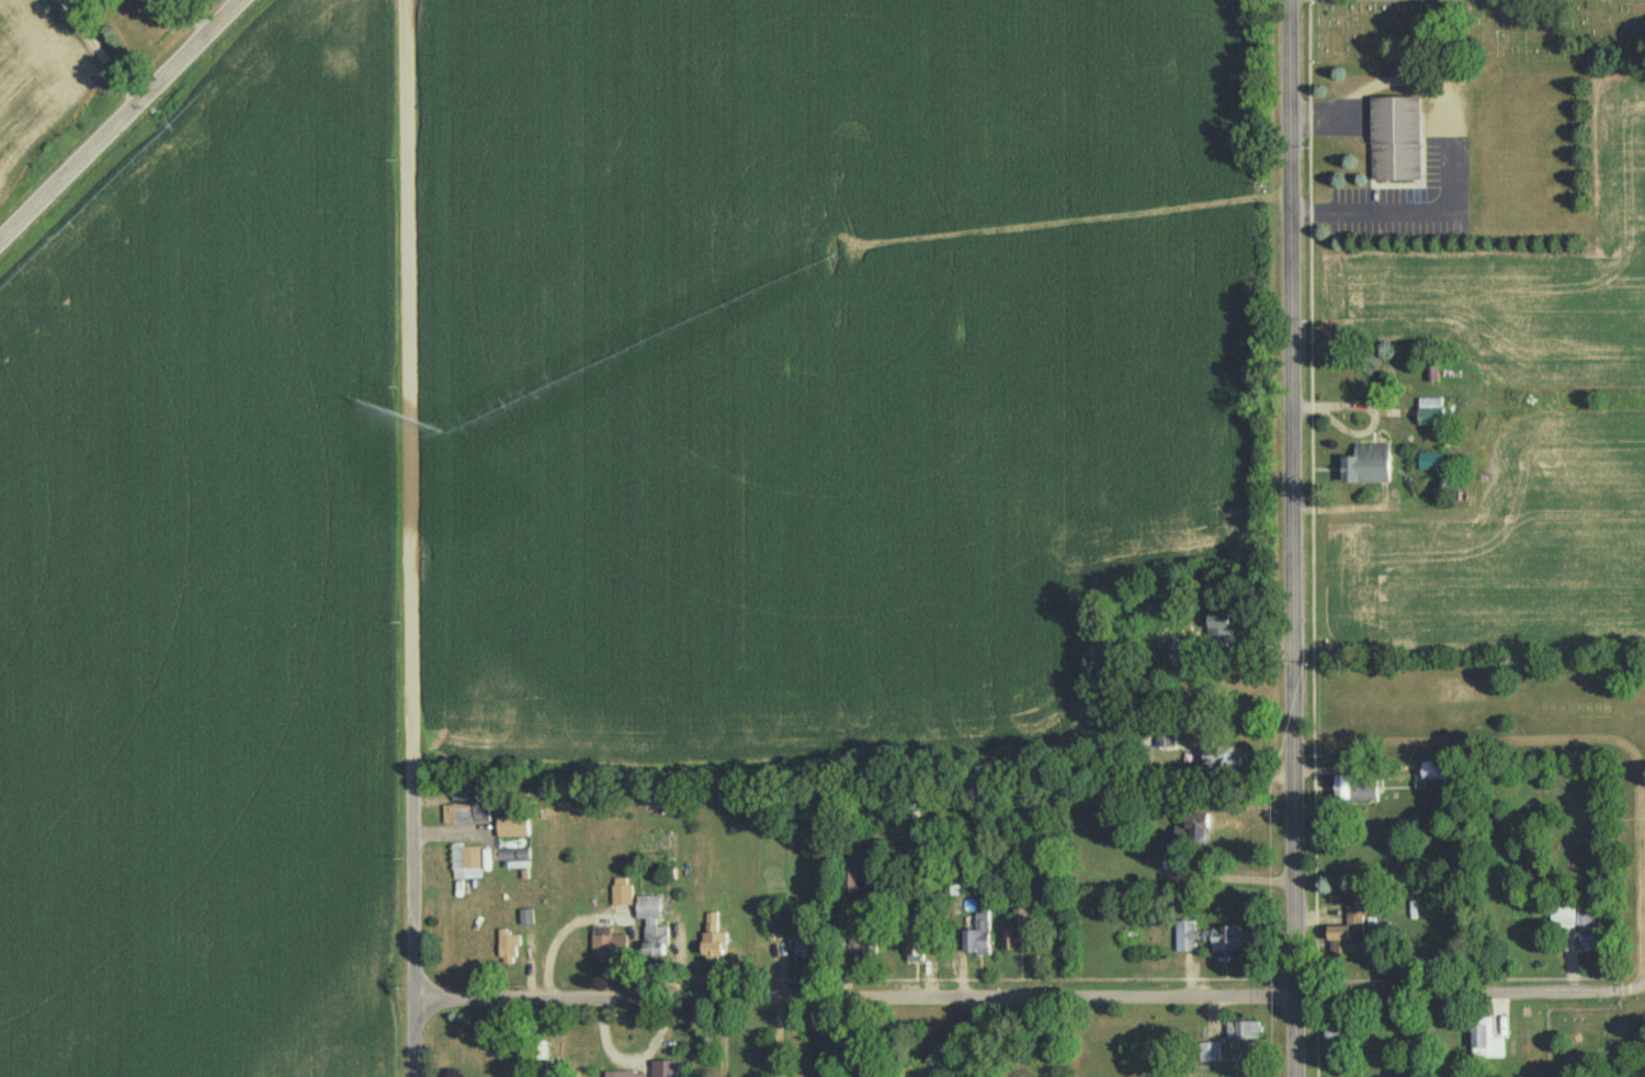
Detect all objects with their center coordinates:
road: (1618, 0)
park: (1477, 30)
road: (116, 117)
building: (1395, 143)
building: (1430, 413)
building: (1430, 463)
building: (1366, 466)
road: (406, 537)
road: (1287, 537)
building: (1218, 631)
building: (1179, 657)
building: (1165, 737)
building: (1219, 759)
building: (1434, 773)
building: (1355, 791)
building: (467, 814)
building: (1193, 824)
building: (466, 864)
building: (850, 880)
building: (1034, 891)
building: (622, 893)
building: (1562, 926)
building: (1350, 927)
building: (653, 928)
building: (773, 929)
building: (1017, 933)
building: (1588, 934)
building: (977, 938)
building: (1206, 939)
building: (714, 942)
building: (915, 946)
building: (609, 949)
building: (804, 949)
building: (509, 950)
building: (863, 950)
road: (1454, 989)
road: (851, 993)
building: (1335, 1032)
building: (1243, 1034)
building: (1484, 1042)
building: (1207, 1058)
building: (541, 1061)

